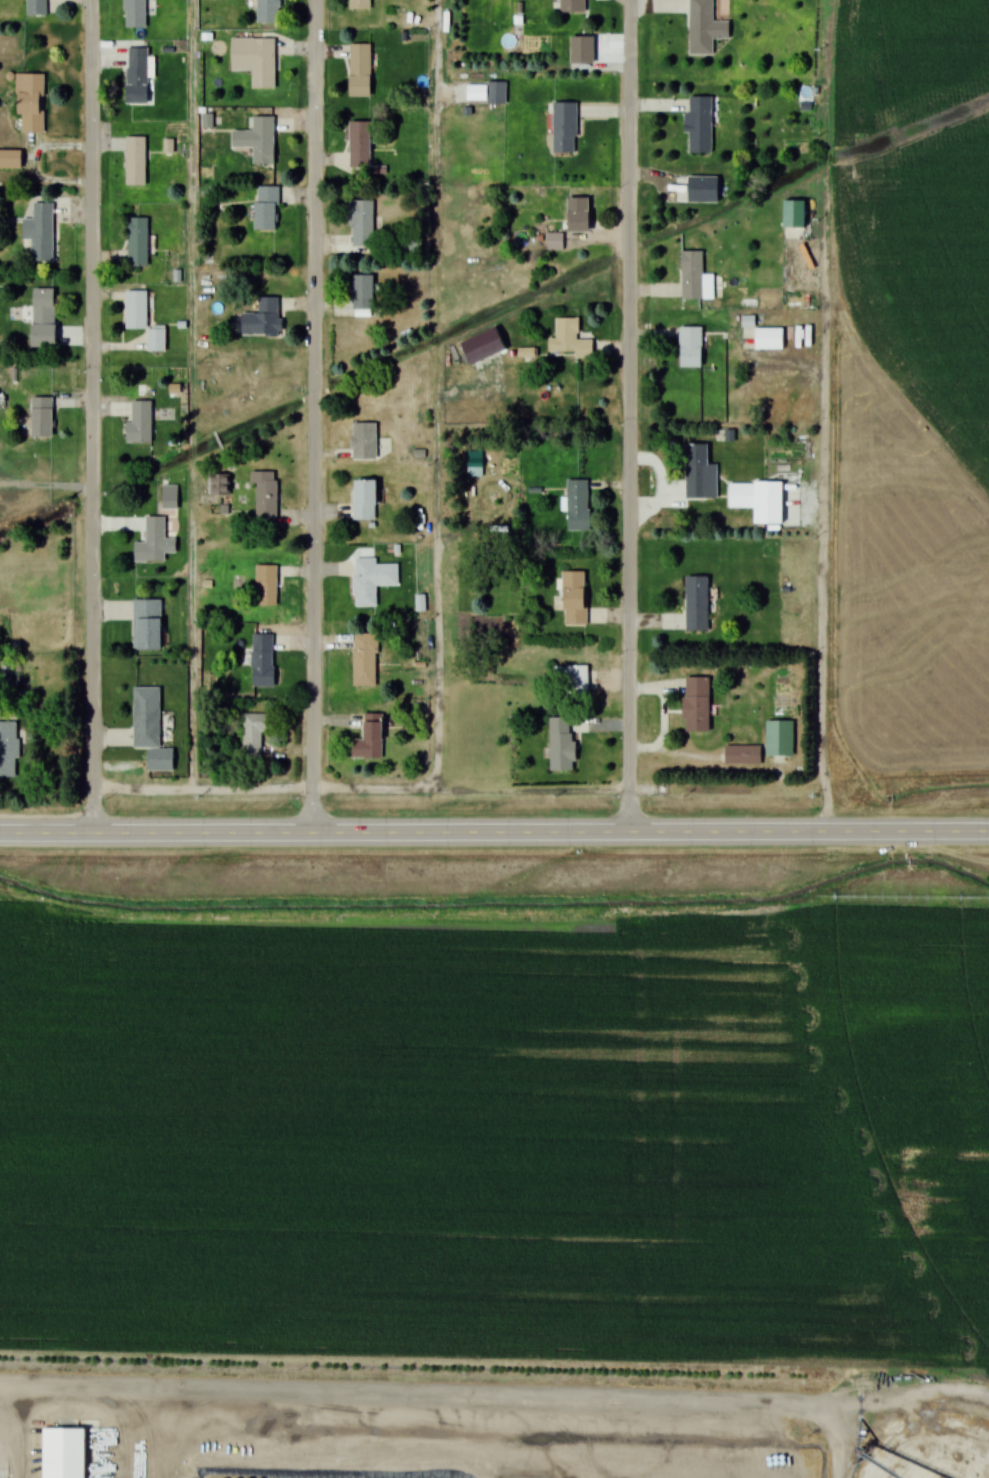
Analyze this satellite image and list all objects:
building: (359, 4)
building: (572, 5)
building: (36, 7)
building: (267, 12)
building: (134, 13)
building: (703, 27)
building: (581, 49)
building: (255, 59)
building: (359, 70)
building: (137, 76)
building: (495, 92)
building: (29, 102)
building: (699, 124)
building: (563, 127)
building: (257, 140)
building: (358, 145)
building: (10, 158)
building: (135, 160)
building: (702, 188)
building: (266, 208)
building: (793, 213)
building: (577, 215)
building: (361, 225)
building: (40, 230)
building: (137, 241)
building: (554, 241)
building: (694, 277)
building: (362, 292)
building: (136, 309)
building: (42, 317)
building: (261, 317)
building: (155, 338)
building: (569, 339)
building: (768, 339)
building: (690, 347)
road: (438, 392)
park: (247, 401)
road: (94, 416)
road: (314, 416)
road: (630, 416)
building: (40, 417)
building: (139, 422)
building: (364, 441)
building: (474, 463)
building: (699, 473)
building: (219, 484)
building: (742, 495)
building: (265, 497)
building: (364, 499)
building: (577, 504)
building: (153, 543)
building: (364, 582)
building: (266, 585)
road: (820, 588)
building: (574, 598)
building: (696, 603)
road: (190, 613)
building: (146, 625)
building: (262, 660)
building: (364, 660)
building: (576, 679)
building: (696, 704)
building: (149, 728)
building: (254, 733)
building: (369, 738)
building: (779, 738)
building: (561, 744)
building: (8, 749)
building: (741, 754)
road: (494, 833)
building: (927, 1447)
building: (3, 1475)
building: (59, 1477)

